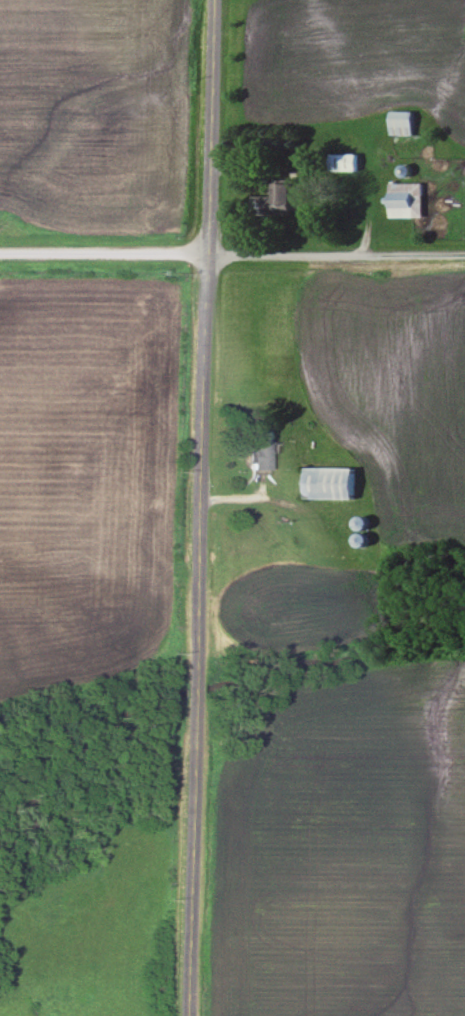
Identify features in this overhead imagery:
building: (400, 122)
building: (344, 162)
building: (404, 199)
building: (275, 201)
road: (103, 252)
road: (336, 253)
building: (265, 449)
building: (331, 483)
road: (260, 500)
road: (204, 508)

